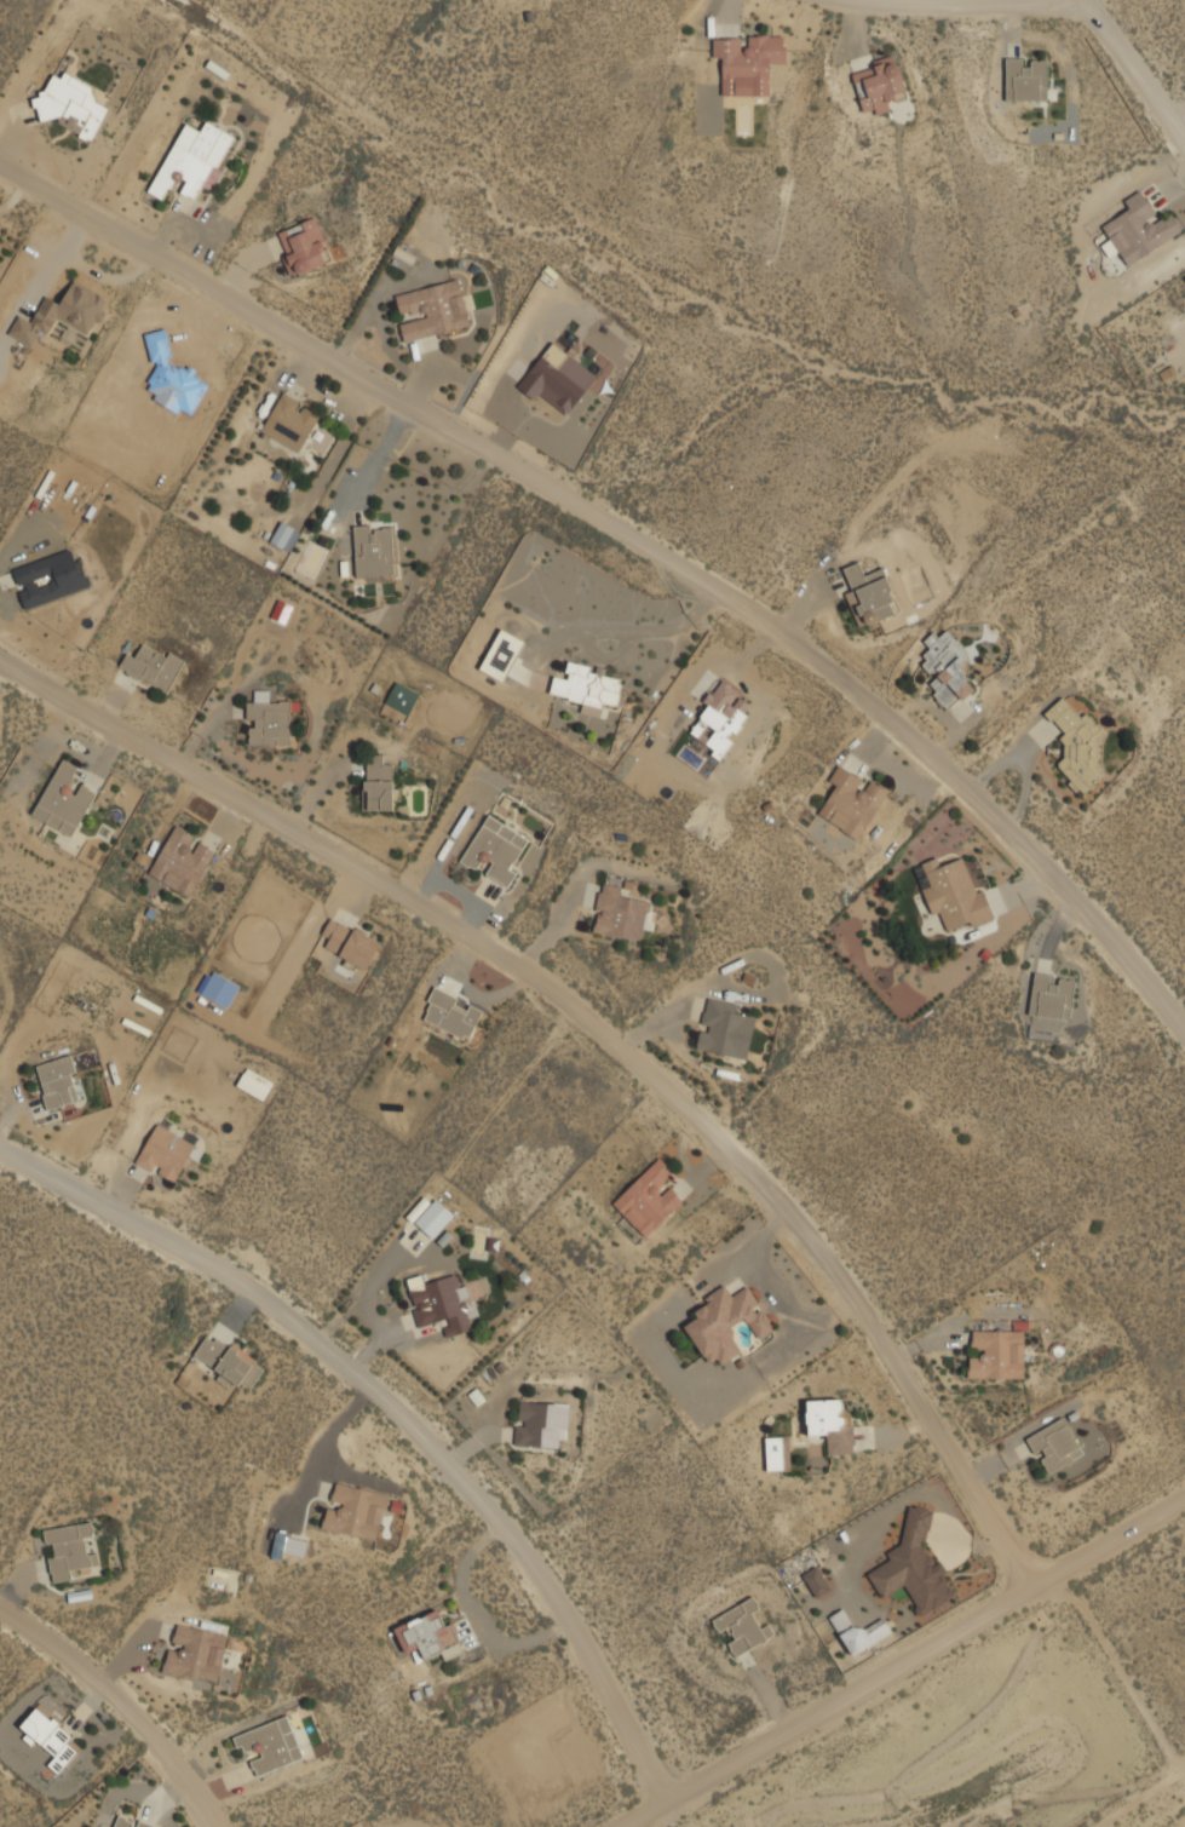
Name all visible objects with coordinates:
road: (938, 4)
building: (748, 62)
road: (1132, 71)
building: (1026, 79)
building: (879, 85)
building: (71, 103)
building: (194, 161)
building: (1139, 228)
building: (303, 246)
building: (432, 309)
building: (63, 312)
building: (554, 379)
building: (291, 420)
building: (282, 534)
road: (638, 541)
building: (373, 548)
building: (50, 578)
building: (870, 591)
building: (502, 654)
building: (153, 666)
building: (947, 667)
building: (587, 686)
building: (402, 697)
building: (723, 717)
building: (269, 719)
building: (1078, 743)
building: (379, 783)
building: (64, 798)
building: (852, 800)
building: (495, 849)
building: (182, 860)
building: (955, 892)
building: (620, 913)
building: (350, 942)
building: (218, 987)
building: (1052, 995)
building: (450, 1013)
building: (725, 1028)
road: (596, 1033)
building: (57, 1081)
building: (166, 1153)
building: (646, 1199)
building: (435, 1217)
building: (441, 1303)
building: (726, 1322)
building: (997, 1354)
building: (229, 1360)
road: (393, 1408)
building: (541, 1423)
building: (832, 1424)
building: (1055, 1444)
building: (777, 1452)
building: (356, 1511)
building: (289, 1545)
building: (69, 1550)
building: (914, 1564)
building: (816, 1581)
building: (744, 1626)
building: (430, 1636)
building: (196, 1653)
road: (899, 1659)
road: (121, 1705)
building: (51, 1736)
building: (270, 1745)
building: (130, 1821)

